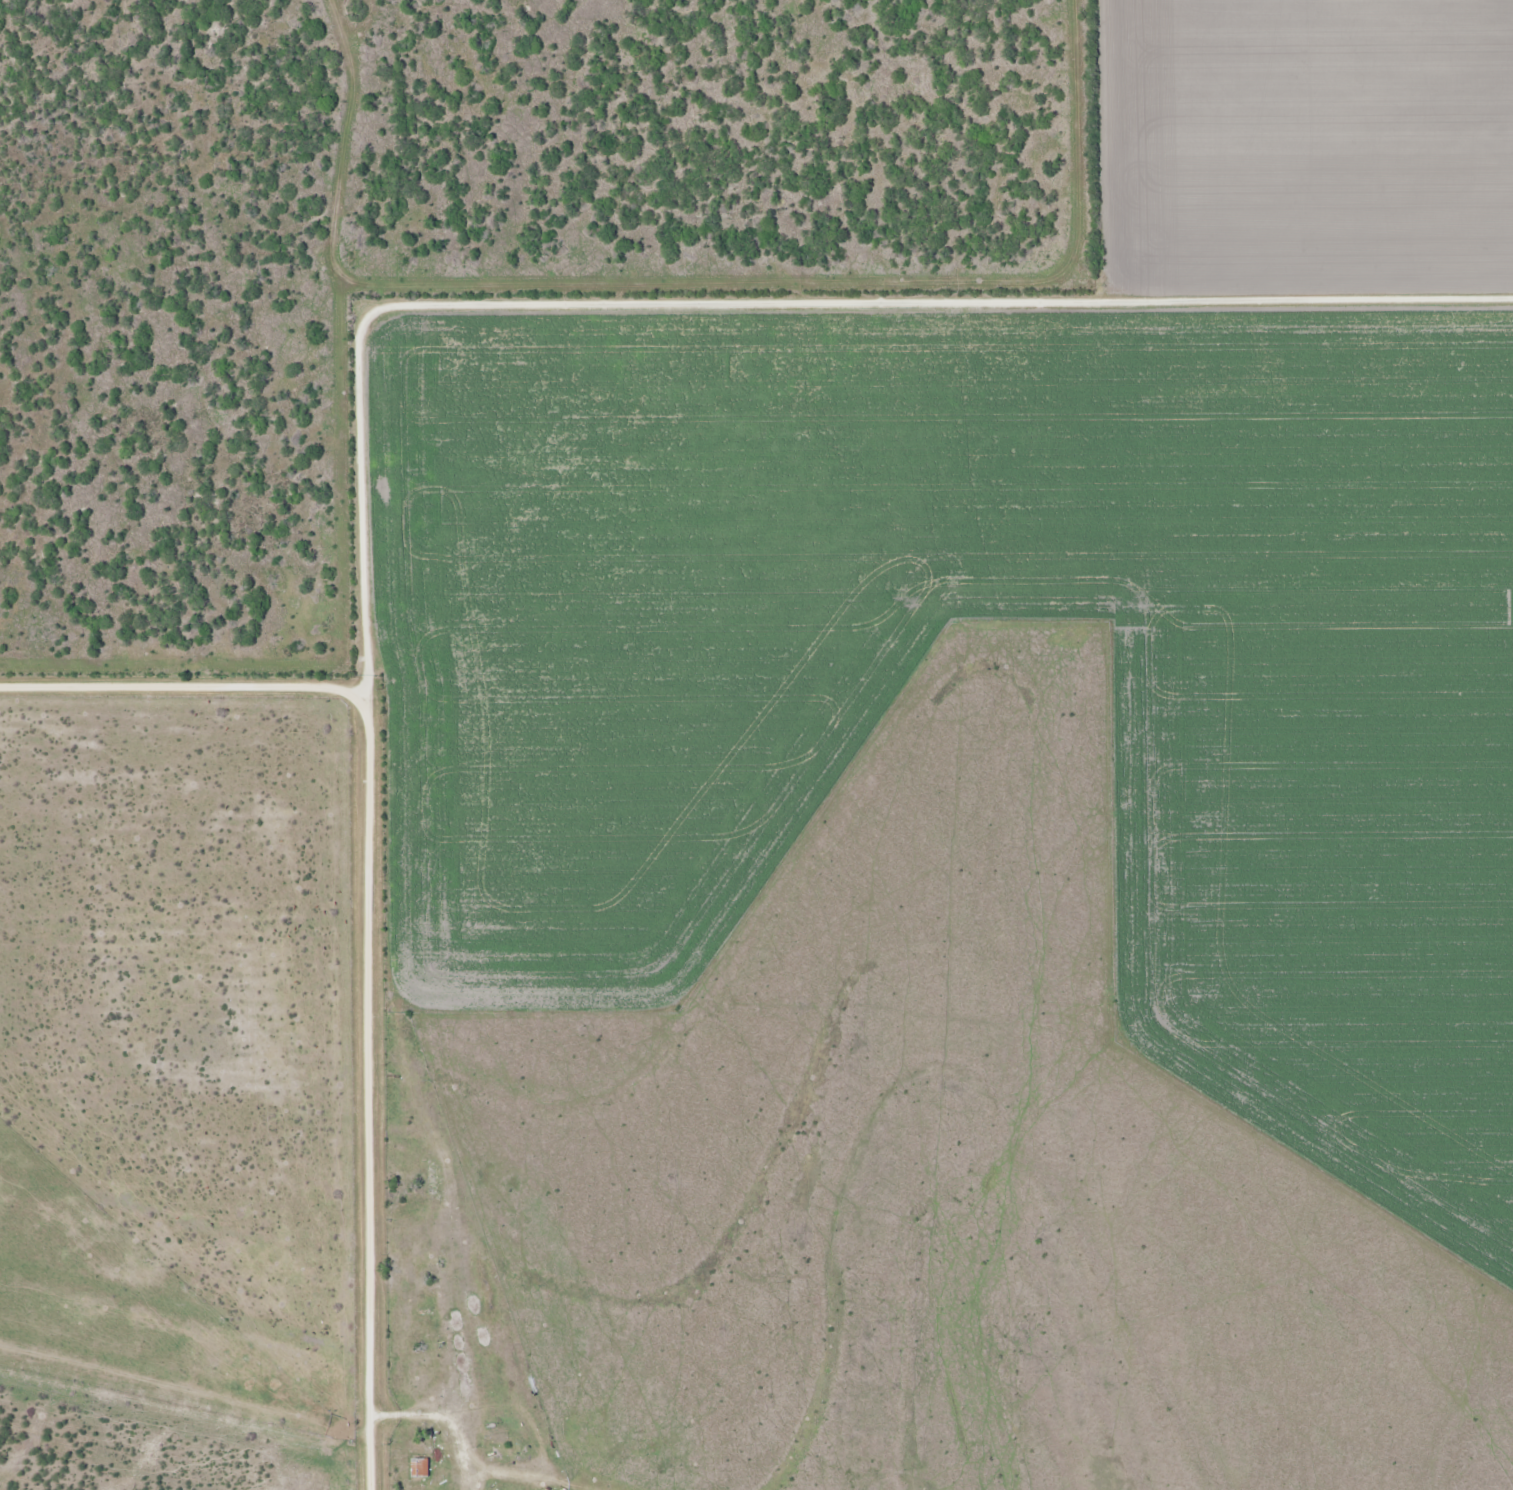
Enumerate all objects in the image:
road: (747, 300)
road: (180, 690)
road: (364, 1090)
building: (498, 1454)
building: (422, 1468)

